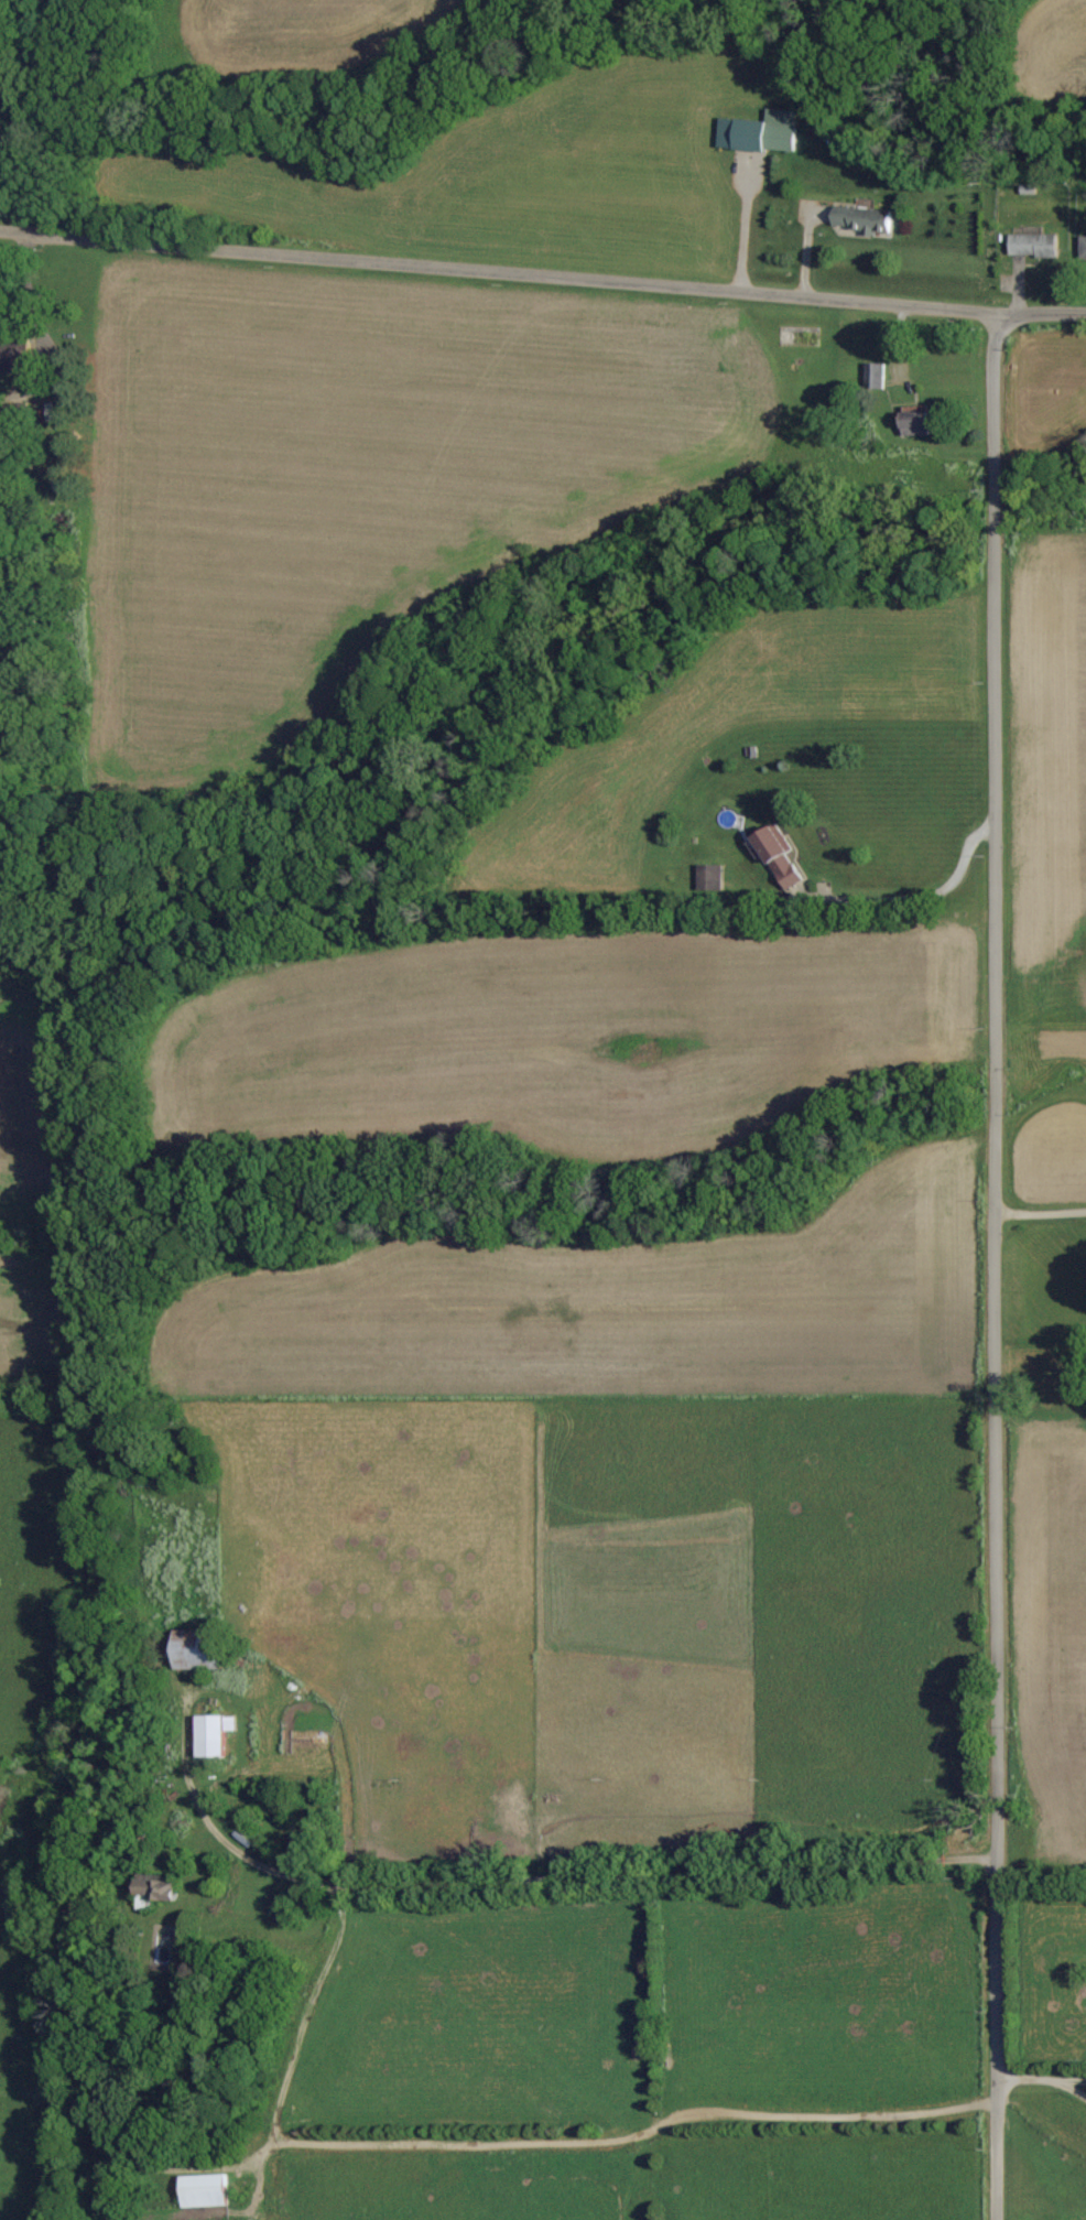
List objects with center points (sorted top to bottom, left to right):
building: (761, 133)
building: (862, 220)
building: (1034, 246)
building: (1083, 249)
road: (498, 266)
road: (26, 284)
road: (1041, 308)
building: (14, 351)
building: (876, 377)
building: (916, 424)
building: (780, 857)
road: (913, 892)
road: (1041, 1210)
road: (996, 1265)
building: (197, 1650)
building: (213, 1734)
building: (156, 1889)
road: (1024, 2075)
road: (1068, 2075)
road: (1068, 2082)
road: (372, 2137)
road: (256, 2158)
building: (205, 2191)

